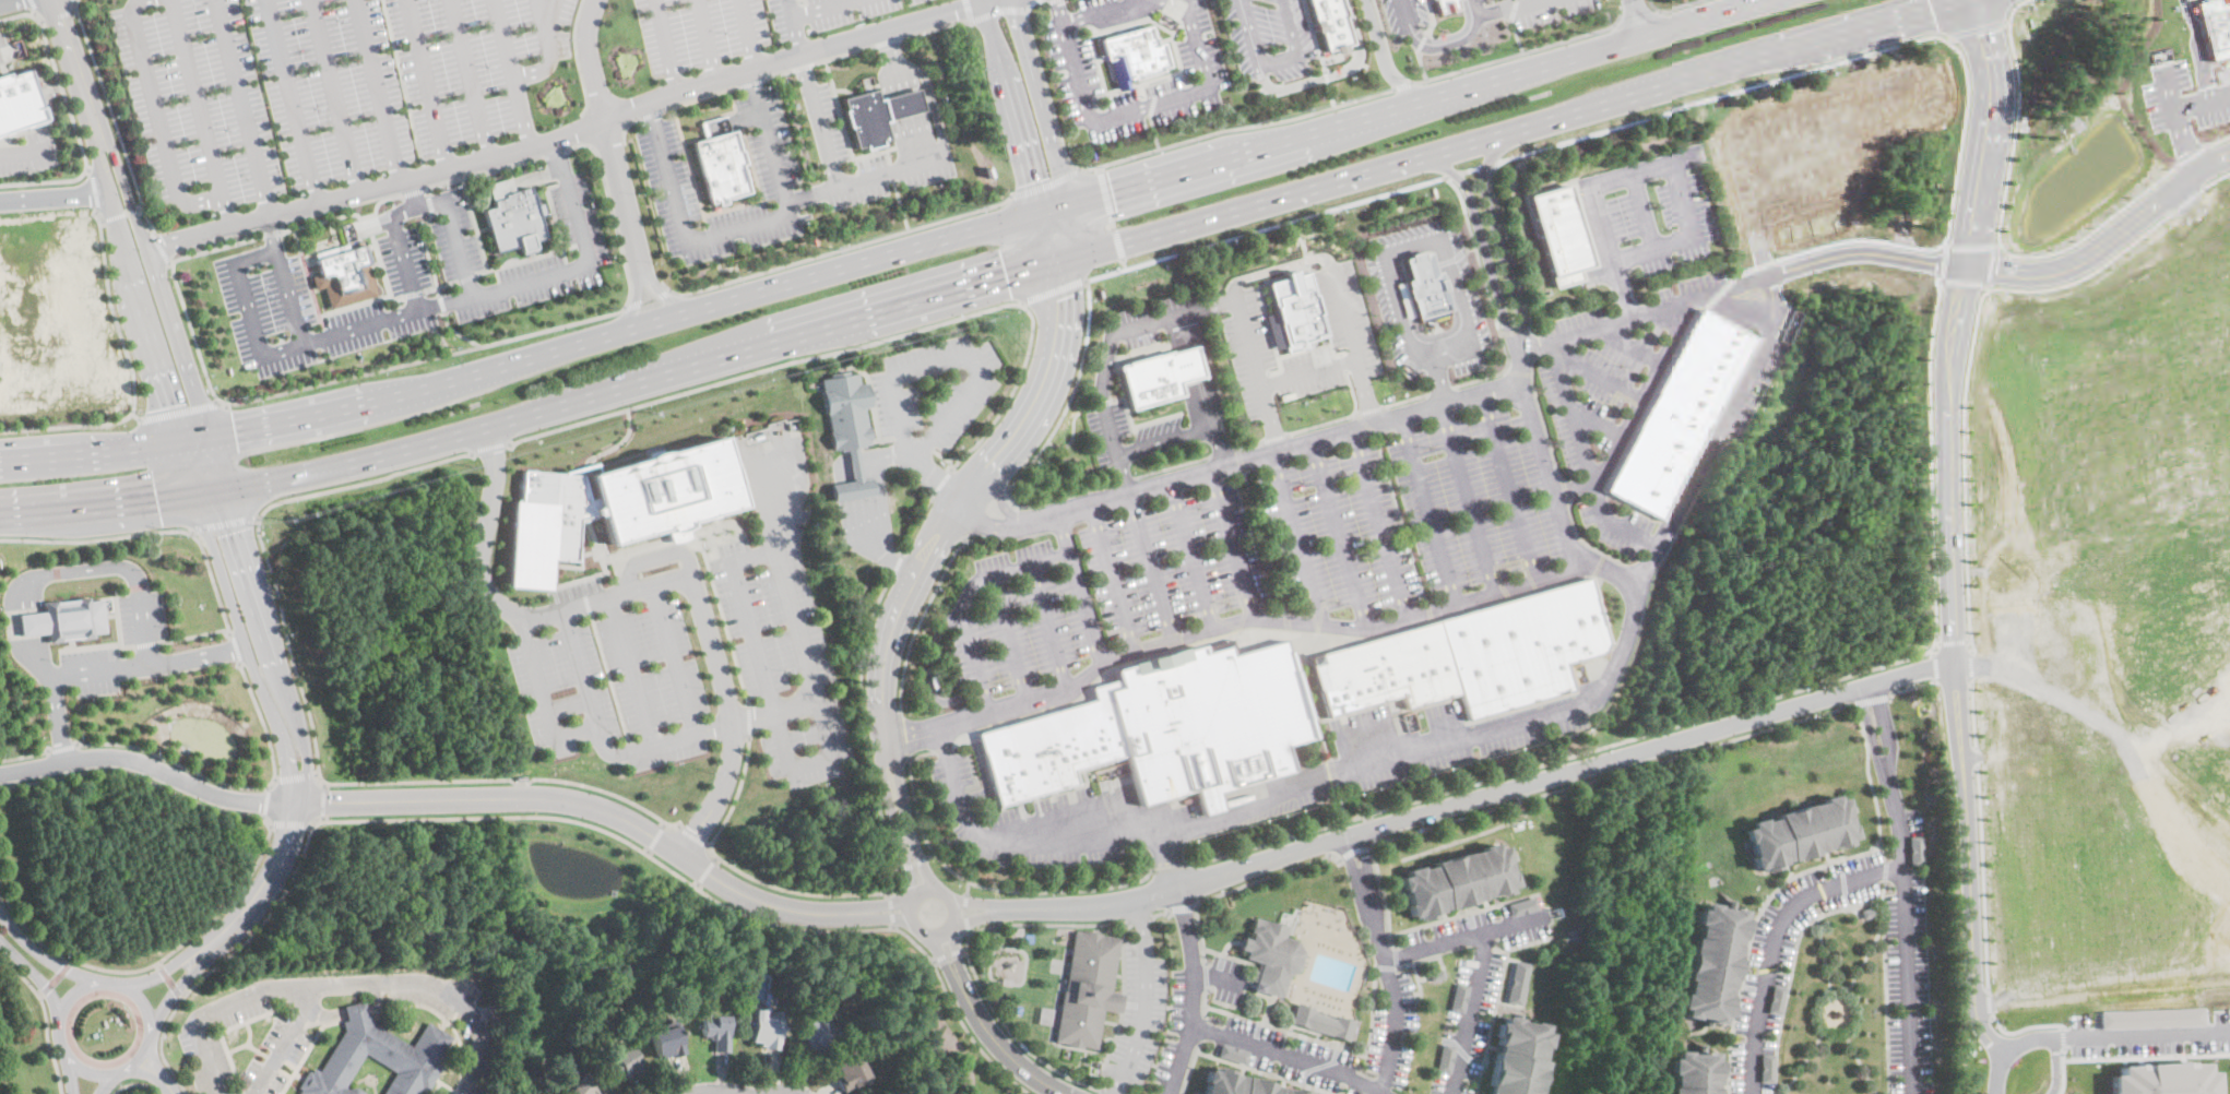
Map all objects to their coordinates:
road: (2, 0)
road: (1507, 2)
building: (1447, 4)
road: (36, 5)
road: (1511, 5)
traffic signals: (1931, 7)
road: (821, 8)
road: (2014, 8)
road: (1676, 9)
road: (76, 11)
road: (548, 11)
road: (1103, 11)
road: (38, 13)
road: (1906, 13)
road: (59, 15)
road: (1637, 17)
road: (43, 21)
road: (1635, 21)
building: (1332, 23)
road: (2006, 23)
road: (798, 26)
building: (2215, 27)
road: (1977, 29)
road: (749, 33)
traffic signals: (1983, 35)
road: (1518, 37)
road: (709, 38)
road: (1949, 39)
road: (1438, 43)
road: (667, 45)
road: (2202, 48)
road: (548, 50)
road: (4, 53)
road: (1520, 53)
road: (71, 56)
building: (1131, 56)
road: (1276, 59)
road: (1385, 62)
road: (1423, 66)
road: (512, 73)
road: (1331, 73)
road: (468, 79)
road: (427, 84)
road: (1403, 85)
road: (2166, 90)
road: (378, 92)
road: (1330, 93)
road: (903, 95)
road: (336, 97)
building: (20, 100)
road: (1705, 102)
road: (293, 103)
road: (1040, 105)
road: (1420, 105)
road: (1132, 107)
road: (244, 108)
road: (1010, 109)
road: (202, 114)
building: (878, 115)
road: (2172, 115)
road: (114, 116)
road: (72, 117)
road: (161, 119)
road: (21, 129)
road: (574, 131)
road: (1152, 132)
road: (610, 134)
road: (2217, 142)
road: (1458, 146)
road: (556, 153)
road: (1141, 153)
road: (27, 155)
road: (2191, 157)
road: (833, 160)
road: (1672, 163)
road: (1488, 166)
building: (723, 168)
road: (1471, 169)
road: (90, 170)
road: (481, 173)
road: (1455, 174)
traffic signals: (1029, 180)
road: (2217, 180)
road: (1045, 186)
road: (413, 189)
road: (96, 191)
road: (413, 193)
road: (814, 193)
traffic signals: (1113, 193)
road: (52, 195)
road: (2190, 201)
road: (429, 202)
road: (902, 205)
road: (140, 210)
road: (1645, 212)
road: (347, 213)
road: (1111, 213)
road: (120, 215)
building: (519, 221)
road: (1266, 227)
road: (744, 228)
building: (1558, 229)
road: (271, 231)
road: (1997, 237)
road: (1427, 239)
road: (1996, 246)
road: (2108, 246)
road: (159, 247)
road: (402, 250)
road: (426, 252)
road: (837, 252)
road: (1124, 264)
road: (1989, 266)
road: (730, 267)
road: (1277, 269)
road: (153, 272)
building: (345, 274)
road: (2088, 275)
traffic signals: (1007, 278)
road: (531, 280)
road: (1755, 283)
building: (1425, 286)
road: (1986, 288)
road: (1622, 290)
road: (1052, 292)
road: (1490, 296)
traffic signals: (1054, 299)
road: (649, 300)
road: (676, 301)
road: (442, 302)
road: (139, 304)
road: (634, 306)
road: (249, 308)
road: (340, 308)
building: (1295, 311)
road: (1931, 322)
road: (630, 329)
road: (456, 333)
road: (325, 335)
road: (1519, 336)
road: (1537, 341)
road: (1632, 344)
road: (1352, 345)
road: (859, 346)
road: (1110, 350)
road: (1519, 359)
road: (398, 366)
road: (976, 366)
road: (1199, 369)
road: (1308, 372)
road: (1257, 373)
road: (134, 374)
road: (1599, 376)
building: (1161, 377)
road: (1440, 383)
road: (629, 385)
road: (1443, 391)
road: (1645, 391)
road: (1408, 401)
road: (218, 403)
traffic signals: (170, 405)
road: (1372, 411)
road: (179, 413)
road: (1724, 415)
building: (1677, 416)
road: (138, 417)
road: (1596, 420)
building: (846, 425)
road: (1325, 425)
road: (1075, 430)
traffic signals: (236, 431)
road: (1279, 438)
road: (1167, 439)
road: (618, 442)
road: (1221, 443)
road: (1253, 444)
road: (490, 445)
road: (1046, 445)
road: (104, 452)
road: (1225, 452)
road: (1585, 457)
road: (945, 461)
road: (1177, 467)
road: (1964, 468)
road: (1128, 480)
road: (940, 484)
road: (1508, 486)
building: (666, 487)
road: (1573, 487)
road: (1467, 498)
traffic signals: (156, 500)
road: (98, 507)
road: (868, 508)
road: (1427, 509)
road: (948, 519)
building: (548, 522)
road: (222, 523)
road: (1380, 523)
road: (916, 525)
road: (1950, 526)
traffic signals: (236, 530)
road: (150, 533)
road: (1340, 535)
road: (1298, 542)
road: (1570, 542)
road: (1237, 549)
road: (2132, 549)
road: (627, 550)
road: (652, 555)
road: (1196, 557)
road: (897, 566)
road: (1158, 567)
road: (1640, 569)
road: (40, 575)
road: (1116, 579)
road: (645, 586)
road: (1084, 586)
road: (253, 588)
road: (583, 595)
road: (969, 599)
building: (62, 618)
road: (922, 620)
road: (235, 621)
road: (794, 623)
road: (117, 627)
road: (143, 628)
road: (726, 629)
road: (1052, 629)
road: (192, 634)
road: (1012, 640)
road: (1970, 640)
road: (1954, 641)
road: (144, 643)
road: (88, 645)
road: (235, 647)
road: (1932, 651)
building: (1464, 656)
road: (673, 658)
road: (1936, 665)
road: (1973, 665)
road: (103, 669)
road: (629, 670)
road: (607, 676)
road: (2091, 681)
building: (934, 682)
road: (1911, 686)
road: (543, 695)
road: (1870, 700)
road: (794, 704)
road: (1974, 714)
road: (749, 720)
building: (1208, 721)
road: (310, 722)
road: (263, 727)
road: (903, 736)
road: (601, 740)
road: (63, 748)
building: (1051, 749)
road: (1564, 756)
road: (25, 757)
road: (1977, 757)
road: (168, 761)
road: (149, 764)
road: (290, 774)
road: (296, 778)
road: (1870, 780)
road: (1317, 787)
road: (1555, 788)
road: (1498, 795)
road: (265, 802)
road: (569, 802)
road: (323, 804)
road: (558, 818)
road: (289, 823)
road: (1372, 828)
building: (1799, 831)
road: (693, 835)
road: (655, 837)
road: (1354, 849)
building: (1918, 849)
road: (647, 853)
road: (930, 856)
road: (1176, 860)
road: (922, 863)
road: (913, 865)
road: (909, 867)
road: (1172, 867)
road: (707, 870)
road: (253, 871)
road: (1983, 876)
building: (1457, 880)
road: (697, 885)
road: (263, 887)
road: (1241, 887)
road: (1905, 887)
road: (892, 888)
road: (924, 888)
road: (993, 888)
road: (969, 889)
road: (889, 894)
road: (910, 897)
road: (996, 905)
building: (1521, 905)
road: (866, 907)
road: (905, 908)
road: (1181, 908)
road: (892, 911)
road: (1160, 913)
road: (966, 914)
road: (864, 915)
road: (998, 915)
road: (1139, 919)
road: (1142, 919)
road: (1514, 925)
road: (894, 927)
road: (951, 932)
road: (971, 934)
road: (1772, 937)
road: (38, 951)
building: (1273, 954)
road: (970, 963)
building: (1709, 963)
road: (1390, 964)
road: (1480, 965)
road: (165, 968)
building: (1436, 974)
road: (963, 975)
road: (29, 976)
road: (952, 979)
building: (1518, 982)
road: (306, 986)
road: (177, 987)
building: (1088, 988)
road: (1195, 992)
building: (1460, 997)
building: (1775, 998)
road: (66, 1002)
road: (1989, 1002)
road: (346, 1008)
road: (1143, 1013)
road: (46, 1016)
building: (2151, 1016)
building: (1322, 1021)
road: (2024, 1027)
building: (716, 1030)
building: (767, 1030)
building: (818, 1033)
road: (2111, 1033)
road: (2062, 1037)
road: (285, 1042)
building: (668, 1042)
building: (1234, 1053)
road: (1284, 1056)
road: (2146, 1056)
building: (379, 1057)
building: (1446, 1057)
building: (1516, 1057)
building: (625, 1062)
road: (1016, 1062)
road: (2055, 1066)
building: (1766, 1067)
road: (2063, 1070)
building: (1689, 1072)
building: (852, 1073)
road: (158, 1074)
road: (1996, 1074)
road: (70, 1077)
building: (2162, 1079)
road: (106, 1083)
building: (1239, 1084)
building: (585, 1085)
road: (1119, 1087)
road: (723, 1092)
building: (1361, 1092)
road: (1107, 1093)
building: (2074, 1093)

